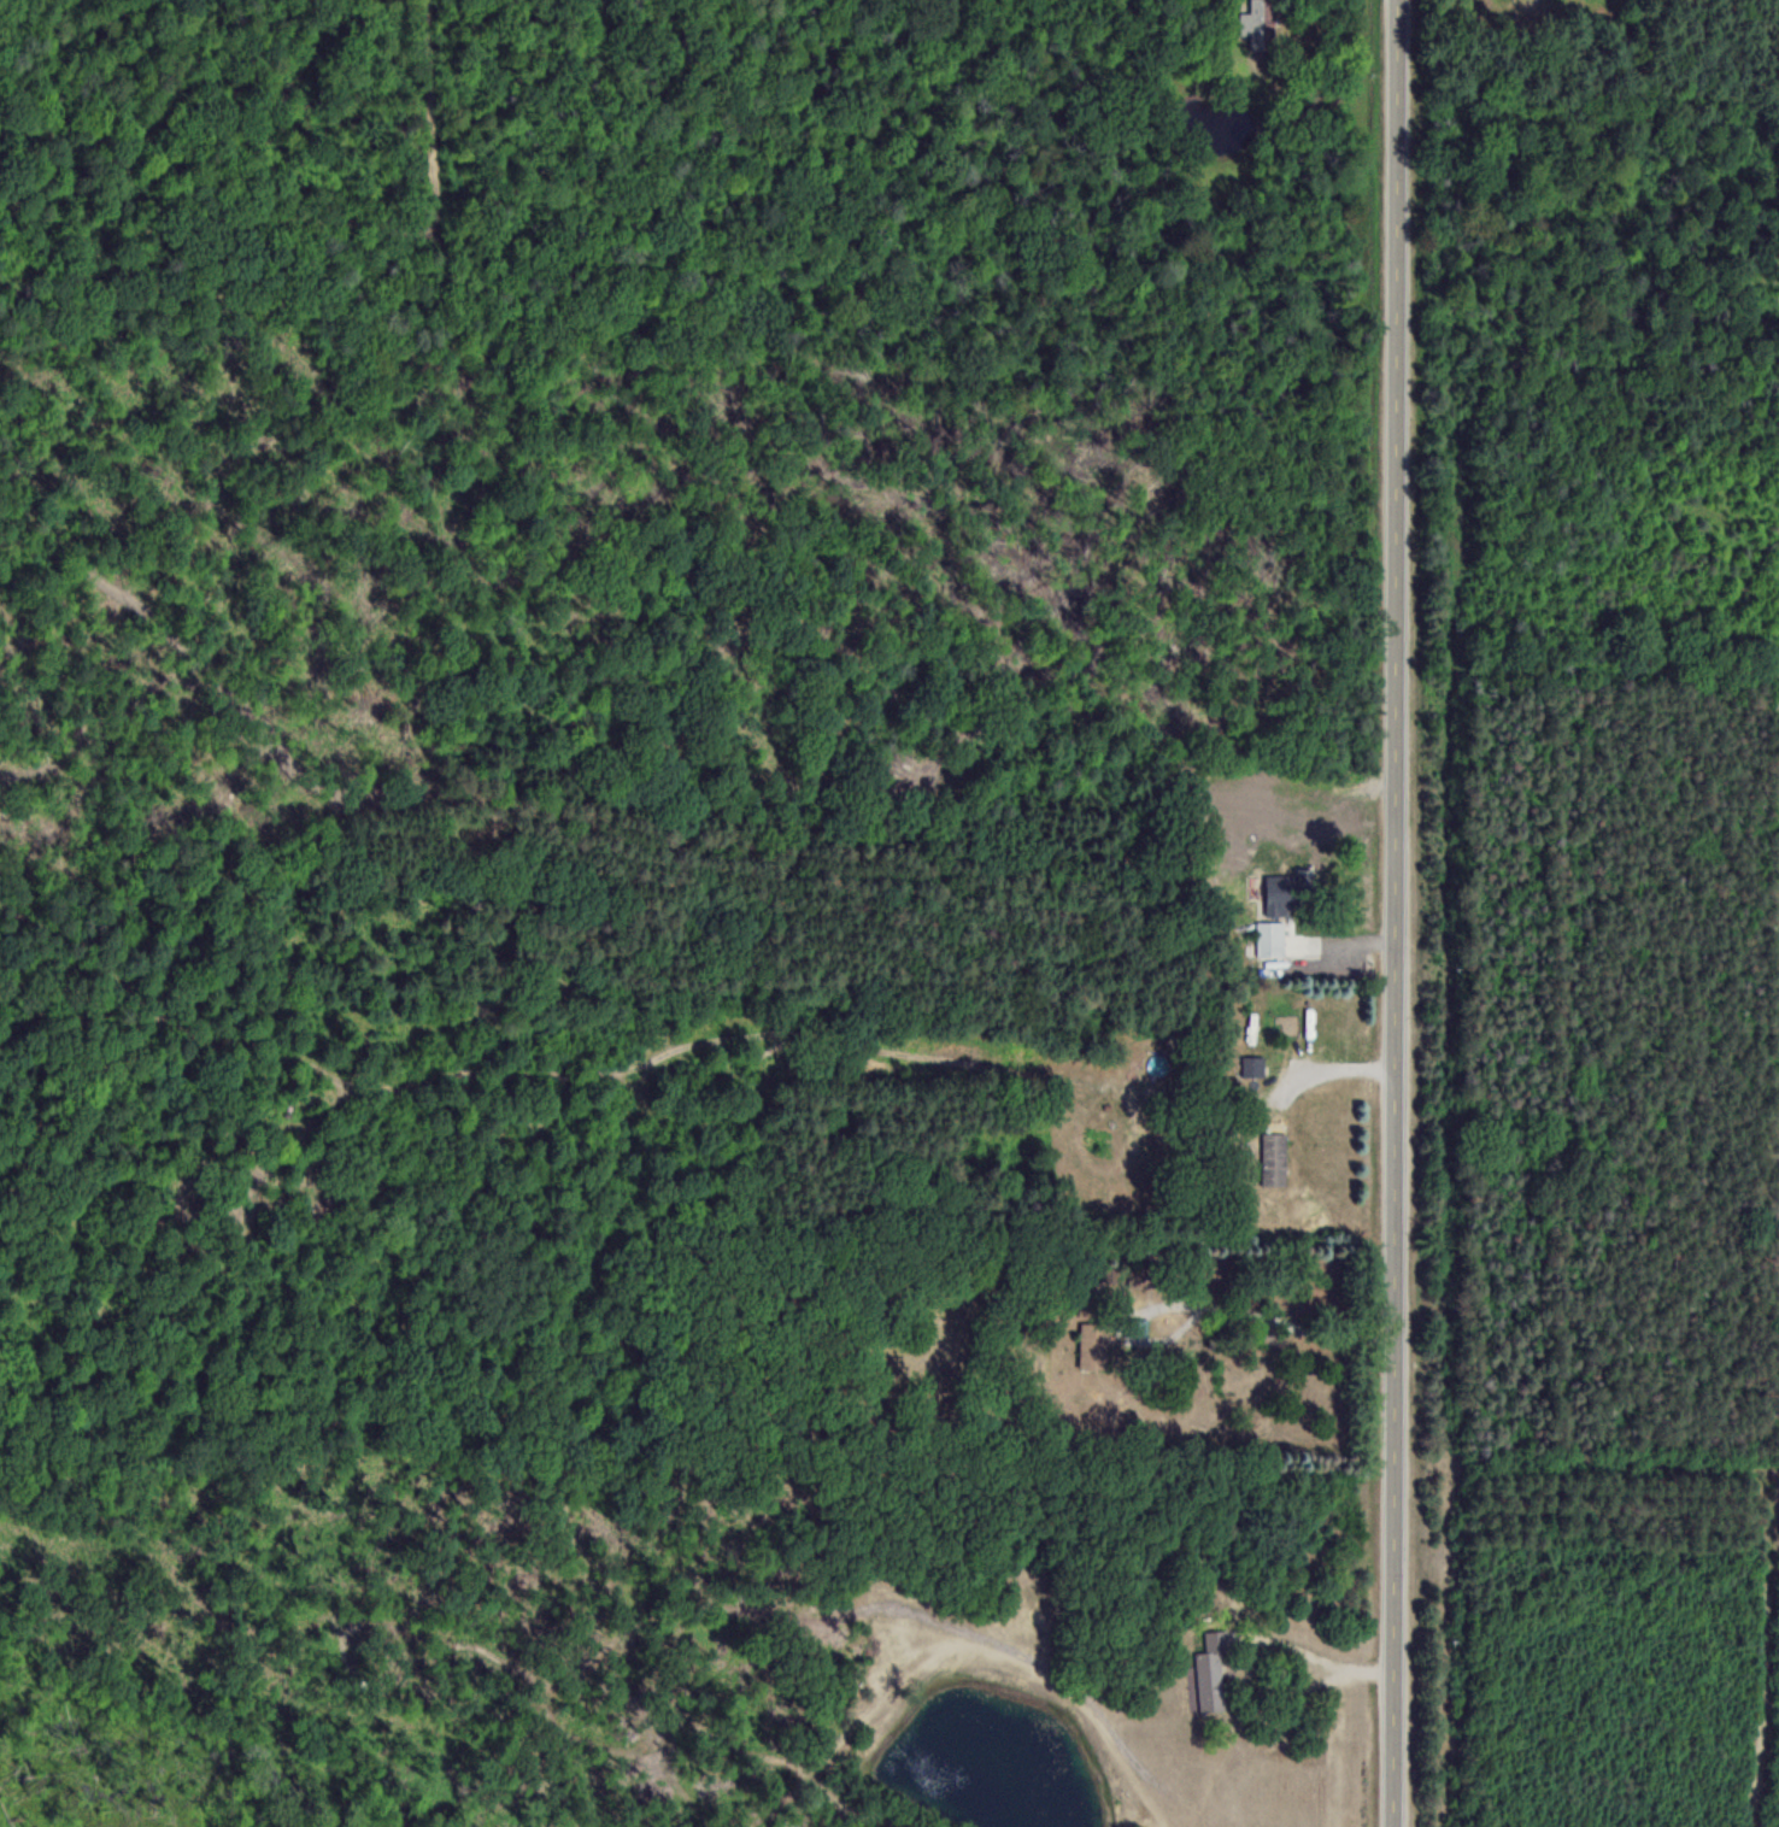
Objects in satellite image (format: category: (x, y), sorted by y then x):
building: (1257, 18)
building: (1280, 893)
road: (1396, 913)
building: (1270, 938)
building: (1252, 1064)
building: (1274, 1158)
road: (1257, 1637)
building: (1211, 1672)

